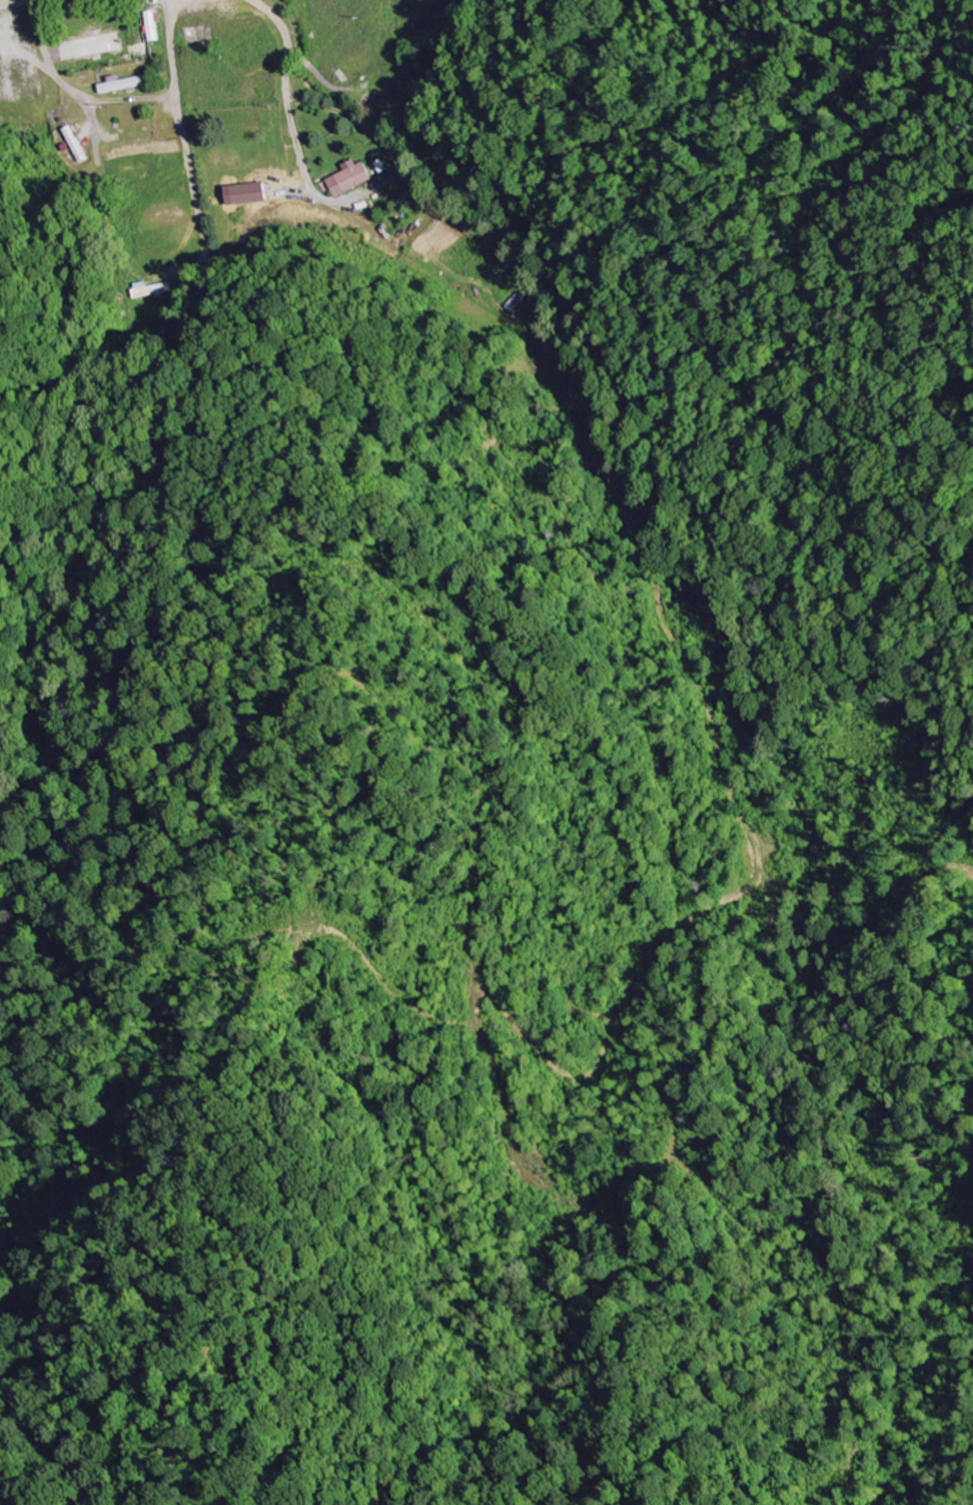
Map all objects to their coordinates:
road: (5, 0)
building: (150, 26)
road: (285, 44)
road: (49, 71)
building: (121, 85)
building: (73, 144)
building: (347, 178)
building: (244, 194)
building: (147, 293)

